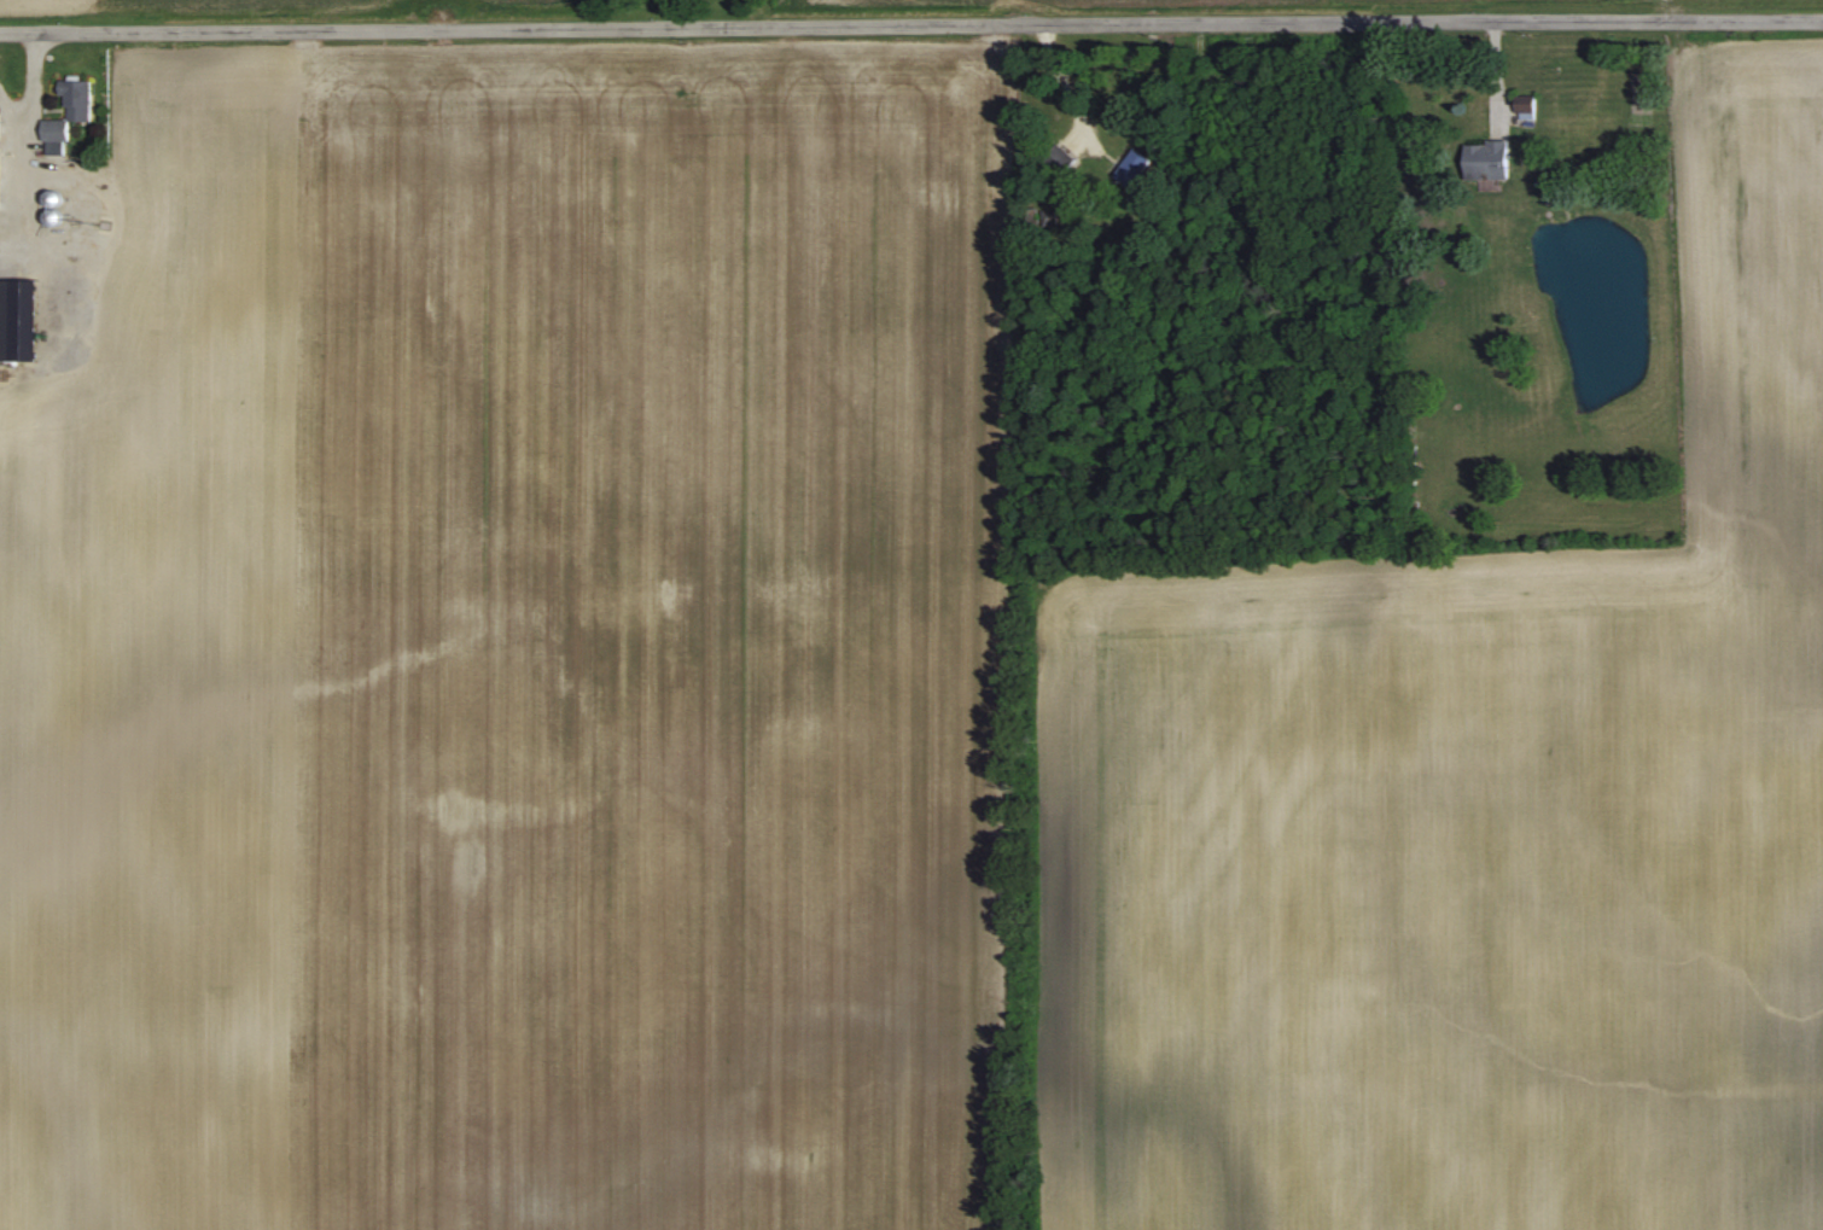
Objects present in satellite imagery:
road: (911, 24)
building: (1525, 105)
building: (70, 109)
building: (0, 111)
building: (1061, 158)
building: (1486, 159)
building: (1135, 168)
building: (52, 198)
building: (5, 320)

